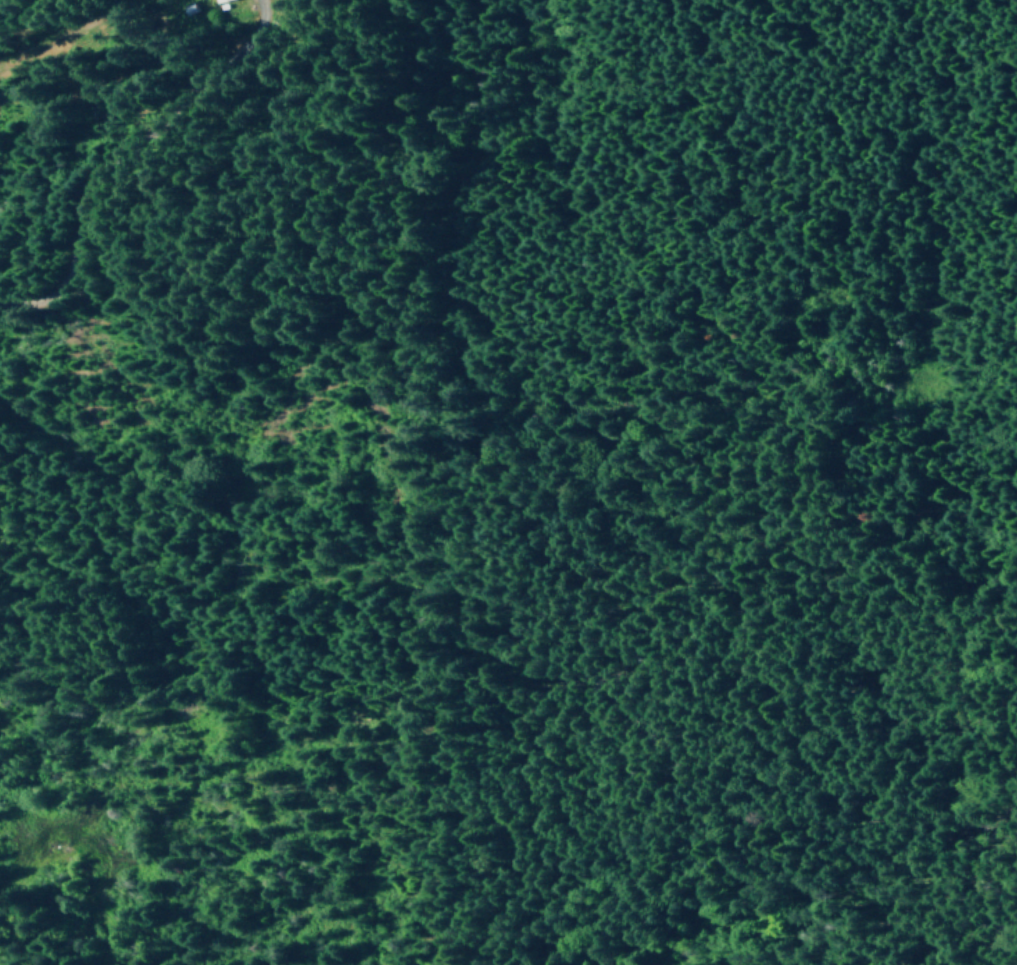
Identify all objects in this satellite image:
building: (216, 0)

